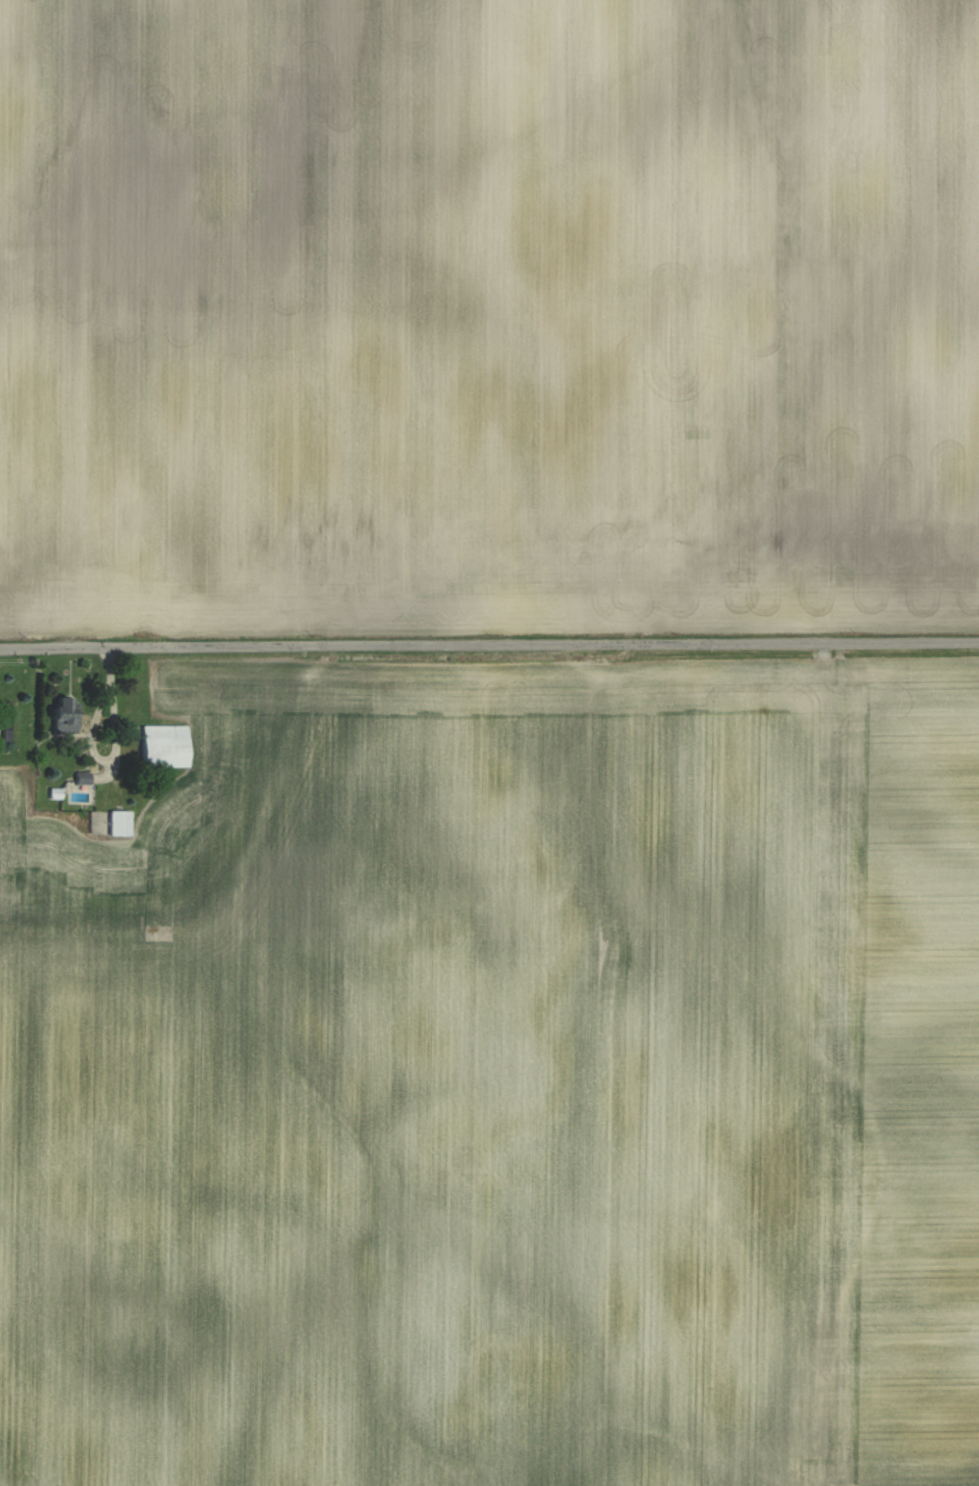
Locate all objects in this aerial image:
road: (489, 644)
building: (65, 714)
building: (6, 721)
building: (162, 747)
building: (118, 823)

